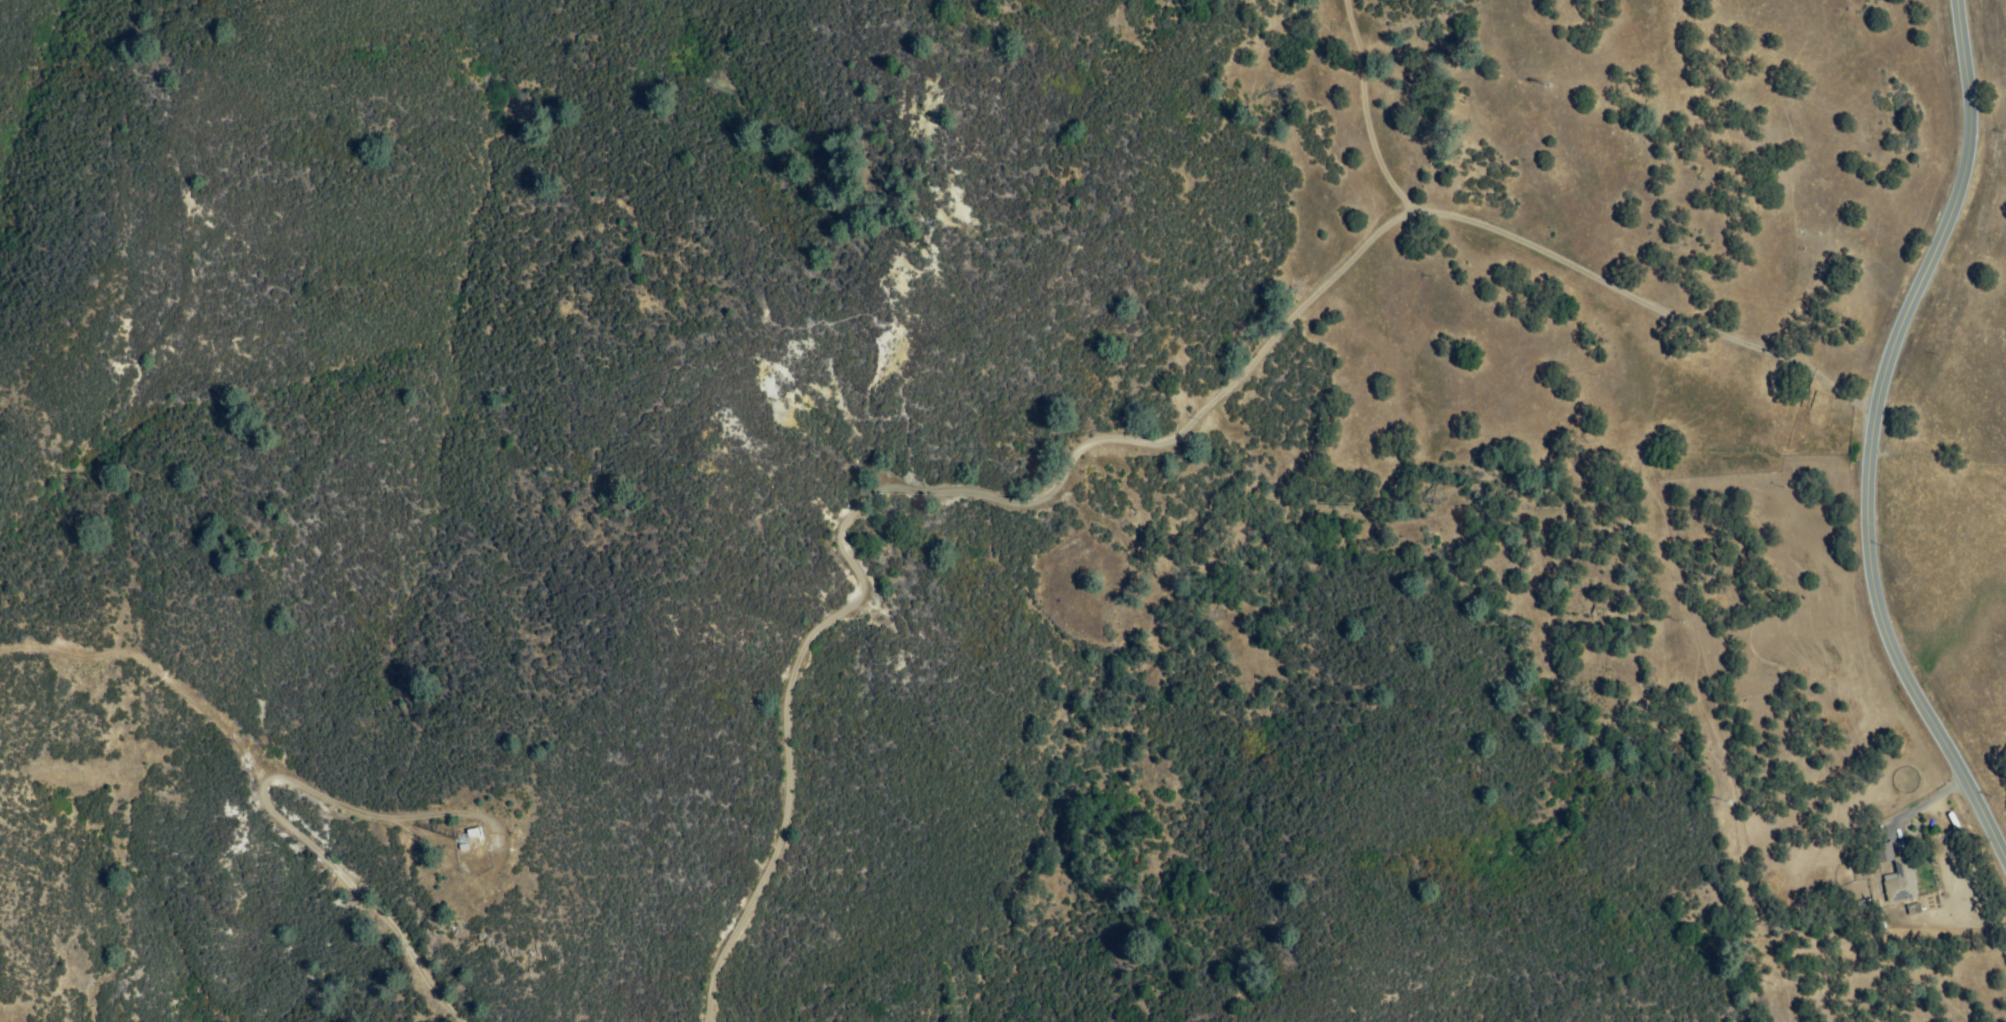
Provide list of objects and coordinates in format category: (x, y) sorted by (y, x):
road: (1357, 108)
road: (1874, 435)
road: (1133, 436)
road: (1269, 480)
road: (149, 662)
road: (1710, 749)
road: (277, 793)
building: (1884, 853)
building: (1903, 881)

